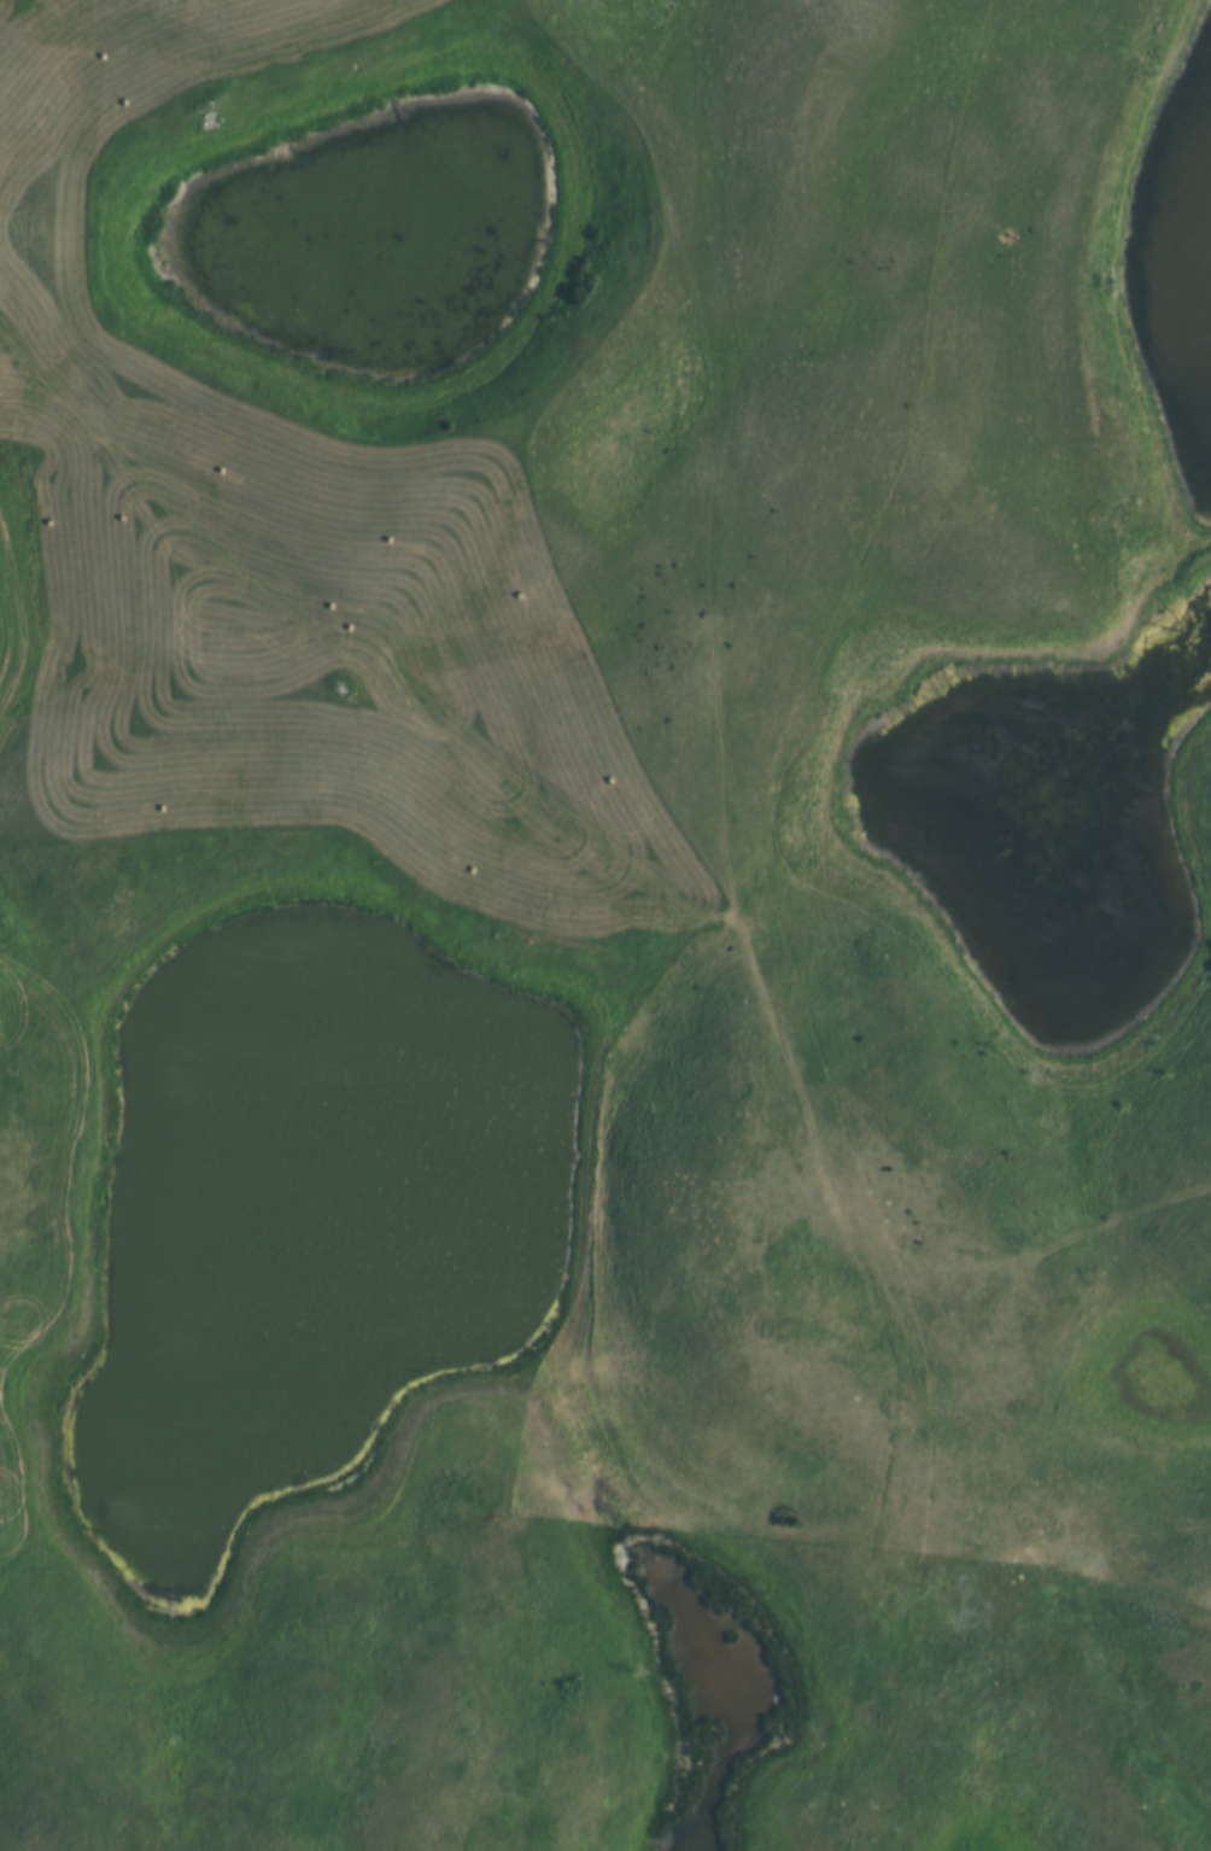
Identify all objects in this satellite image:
road: (748, 935)
road: (874, 1561)

